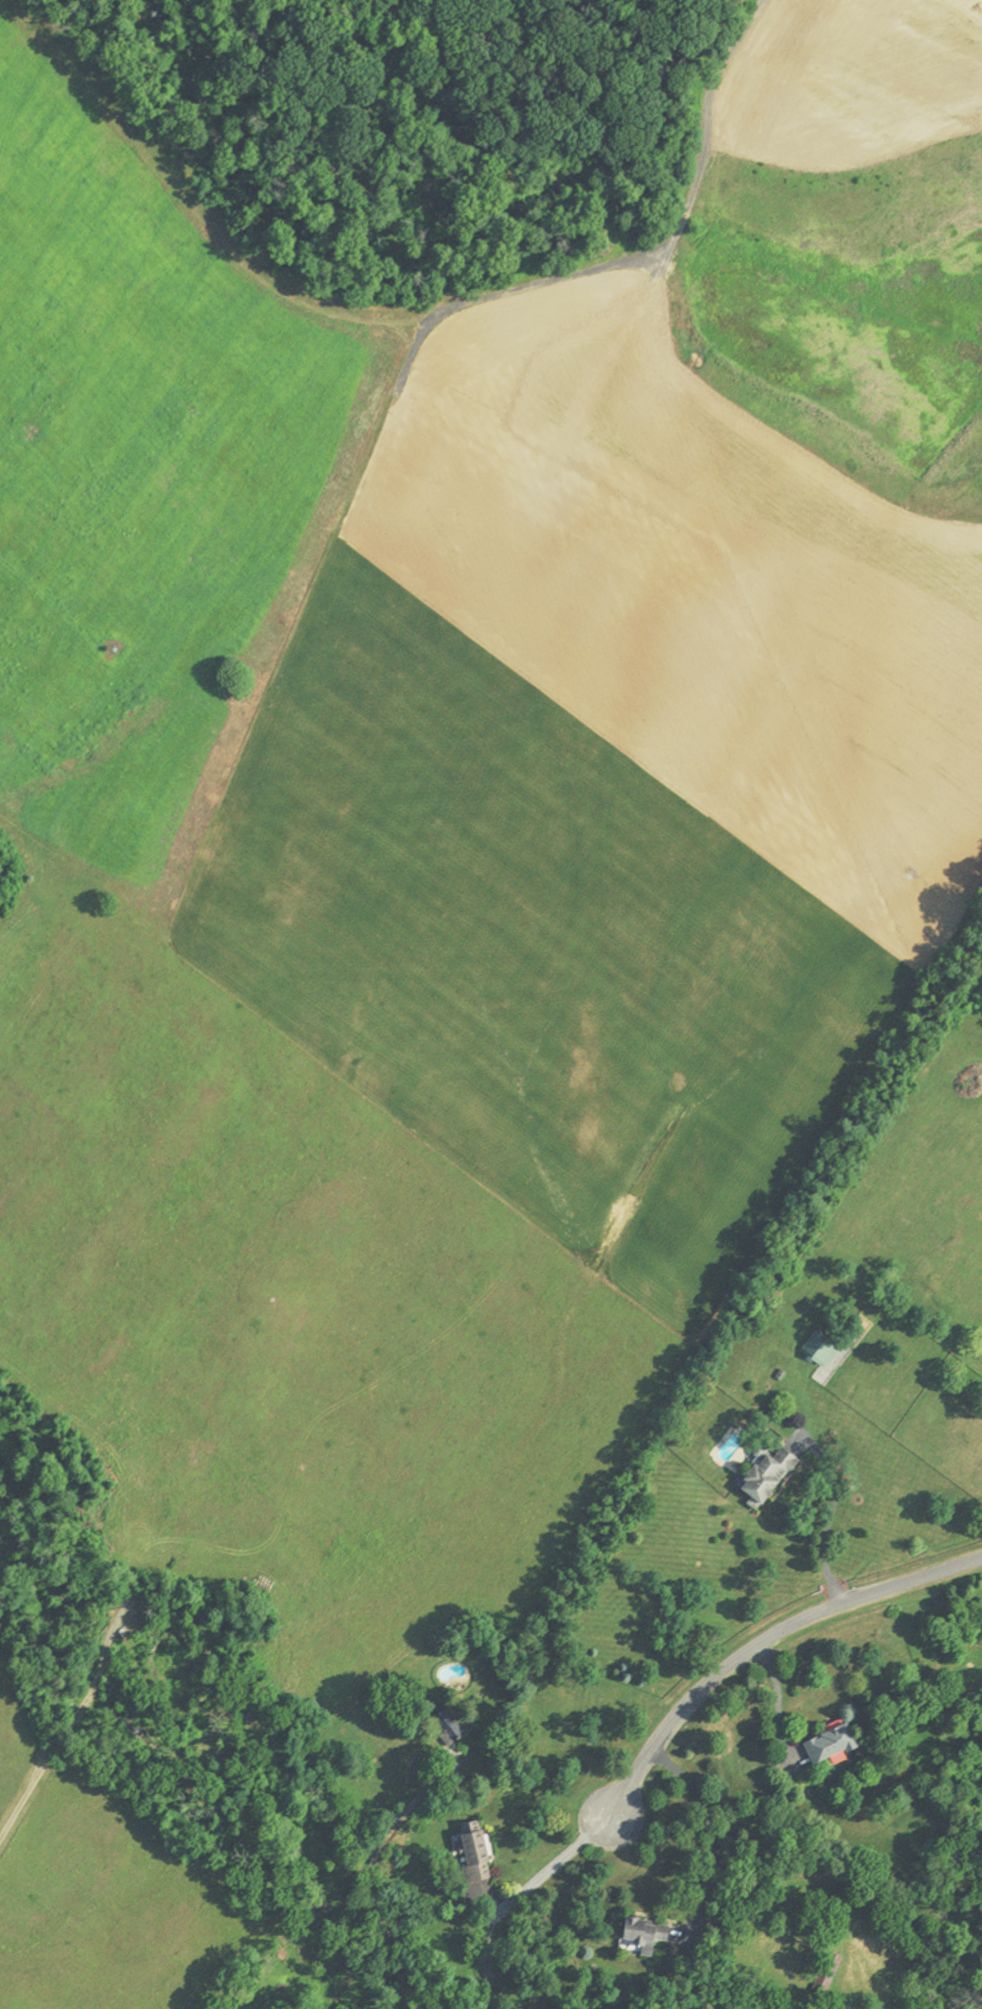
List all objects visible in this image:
road: (721, 129)
crop: (471, 686)
crop: (288, 1304)
building: (820, 1348)
building: (780, 1373)
building: (765, 1475)
road: (830, 1513)
road: (122, 1605)
road: (110, 1639)
road: (764, 1642)
road: (778, 1700)
building: (449, 1726)
building: (831, 1743)
road: (54, 1745)
crop: (17, 1749)
road: (712, 1834)
building: (473, 1851)
road: (379, 1871)
road: (517, 1896)
road: (489, 1899)
crop: (105, 1904)
building: (644, 1932)
building: (826, 1971)
building: (841, 2005)
building: (232, 2008)

